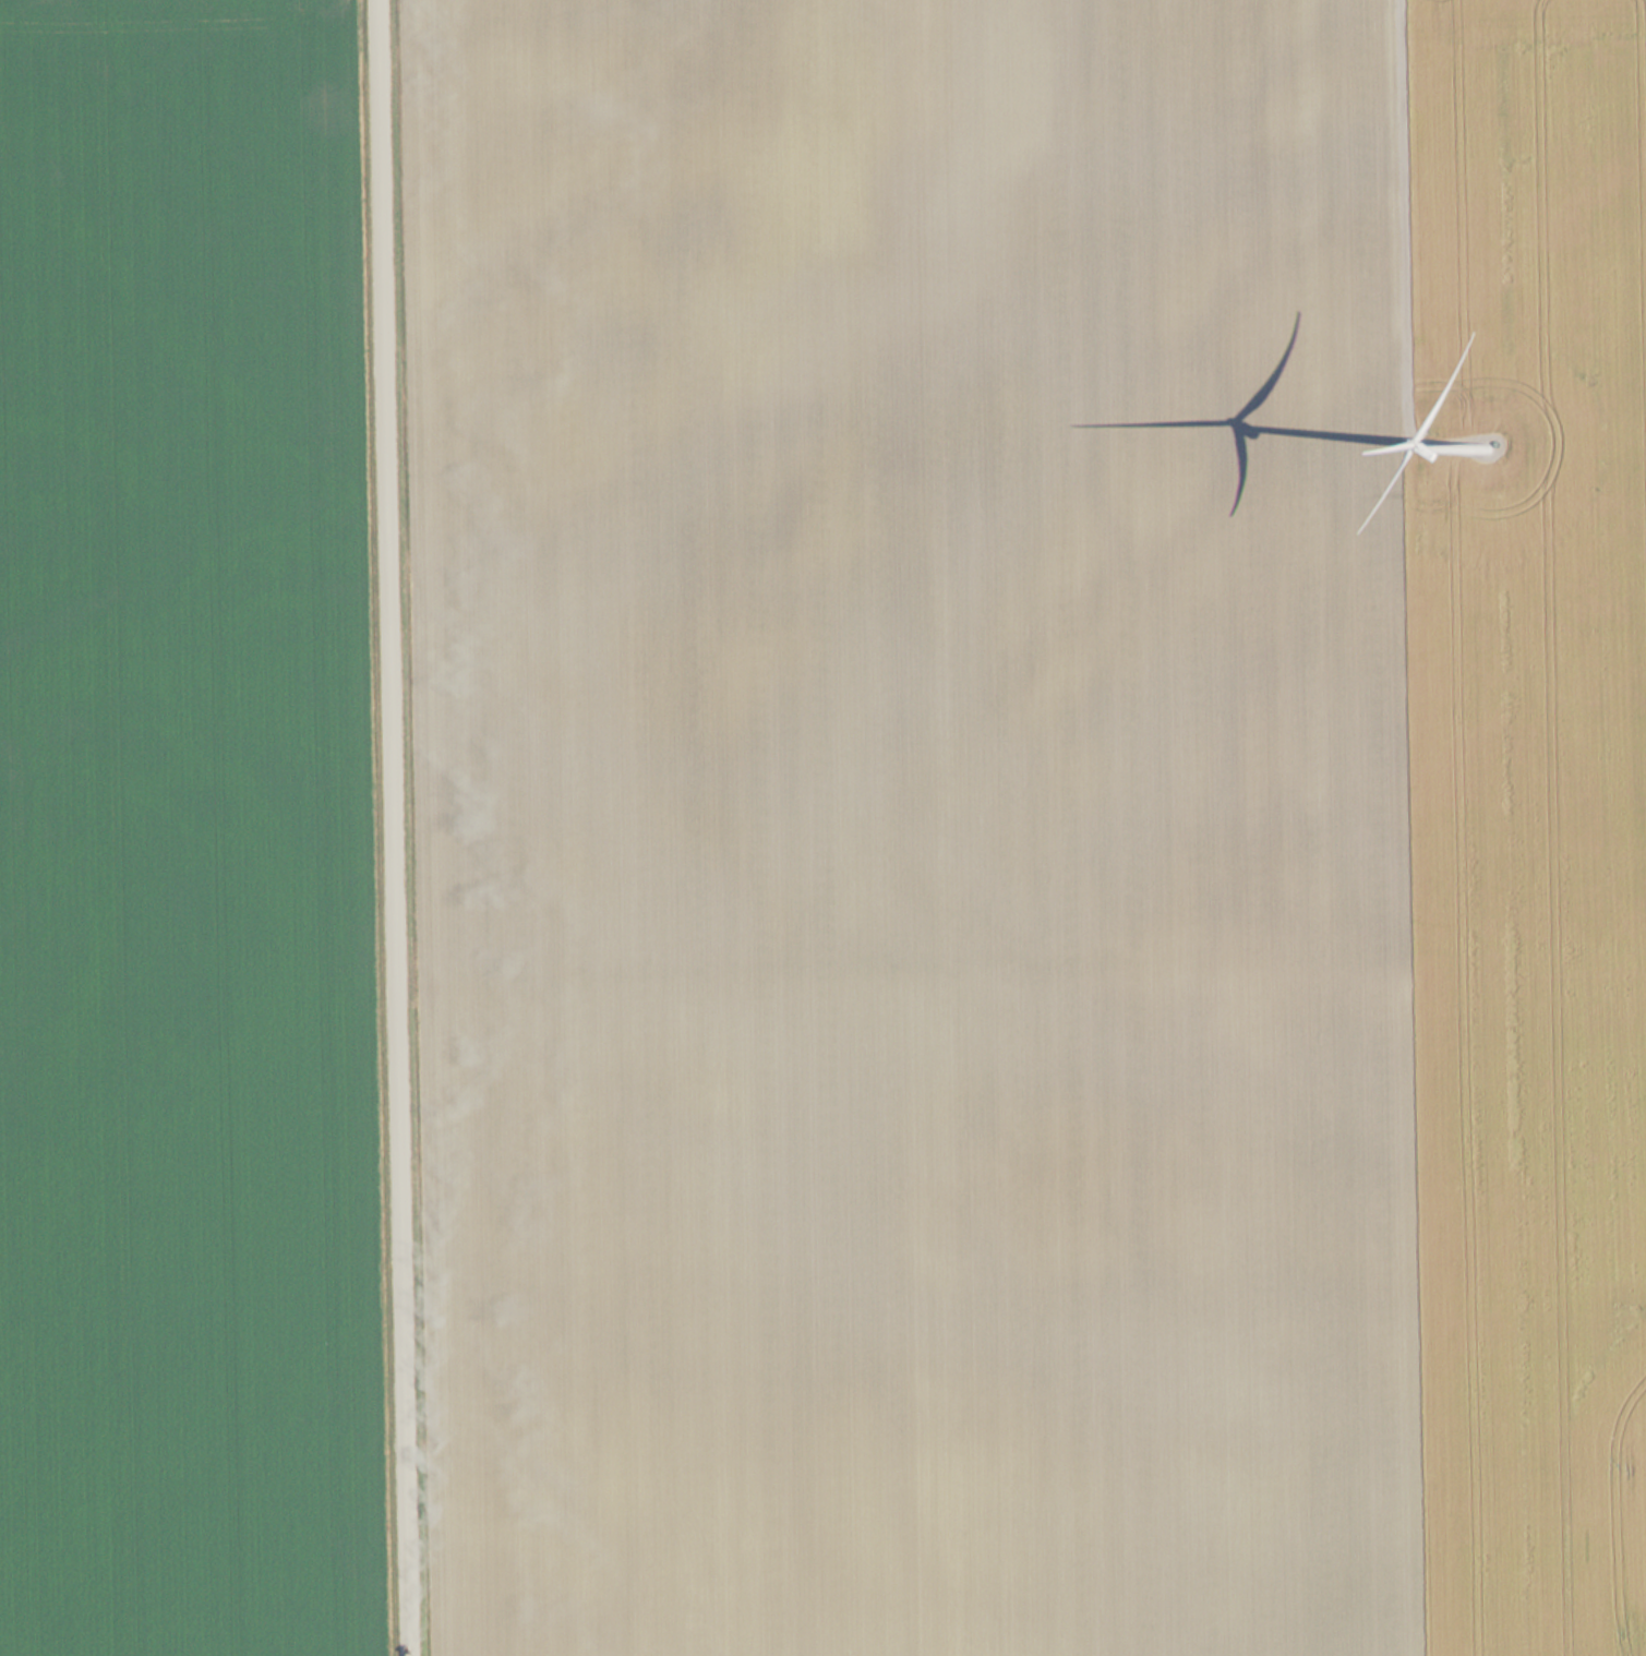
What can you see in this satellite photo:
road: (1407, 203)
wind turbine: (1497, 441)
road: (399, 828)

